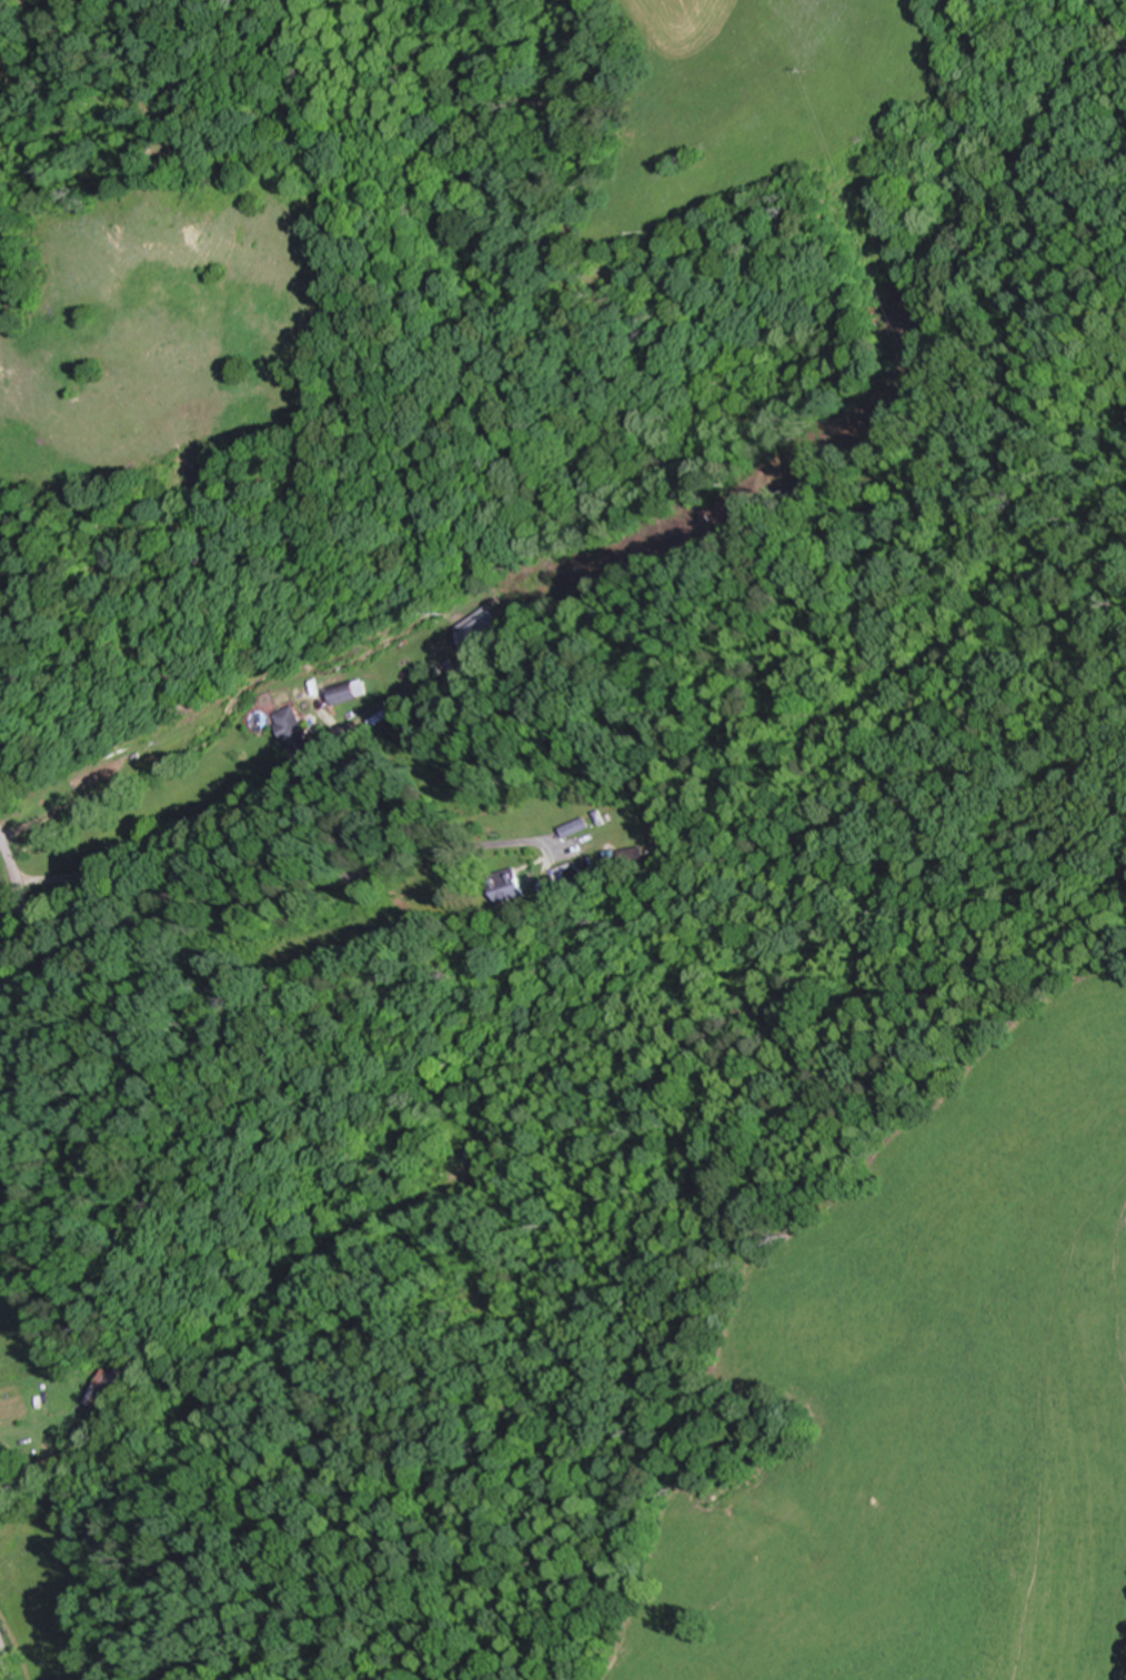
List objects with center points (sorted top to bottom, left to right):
road: (412, 623)
building: (483, 632)
building: (348, 691)
building: (294, 731)
building: (576, 827)
building: (631, 858)
building: (507, 886)
road: (19, 924)
building: (108, 1389)
road: (4, 1661)

